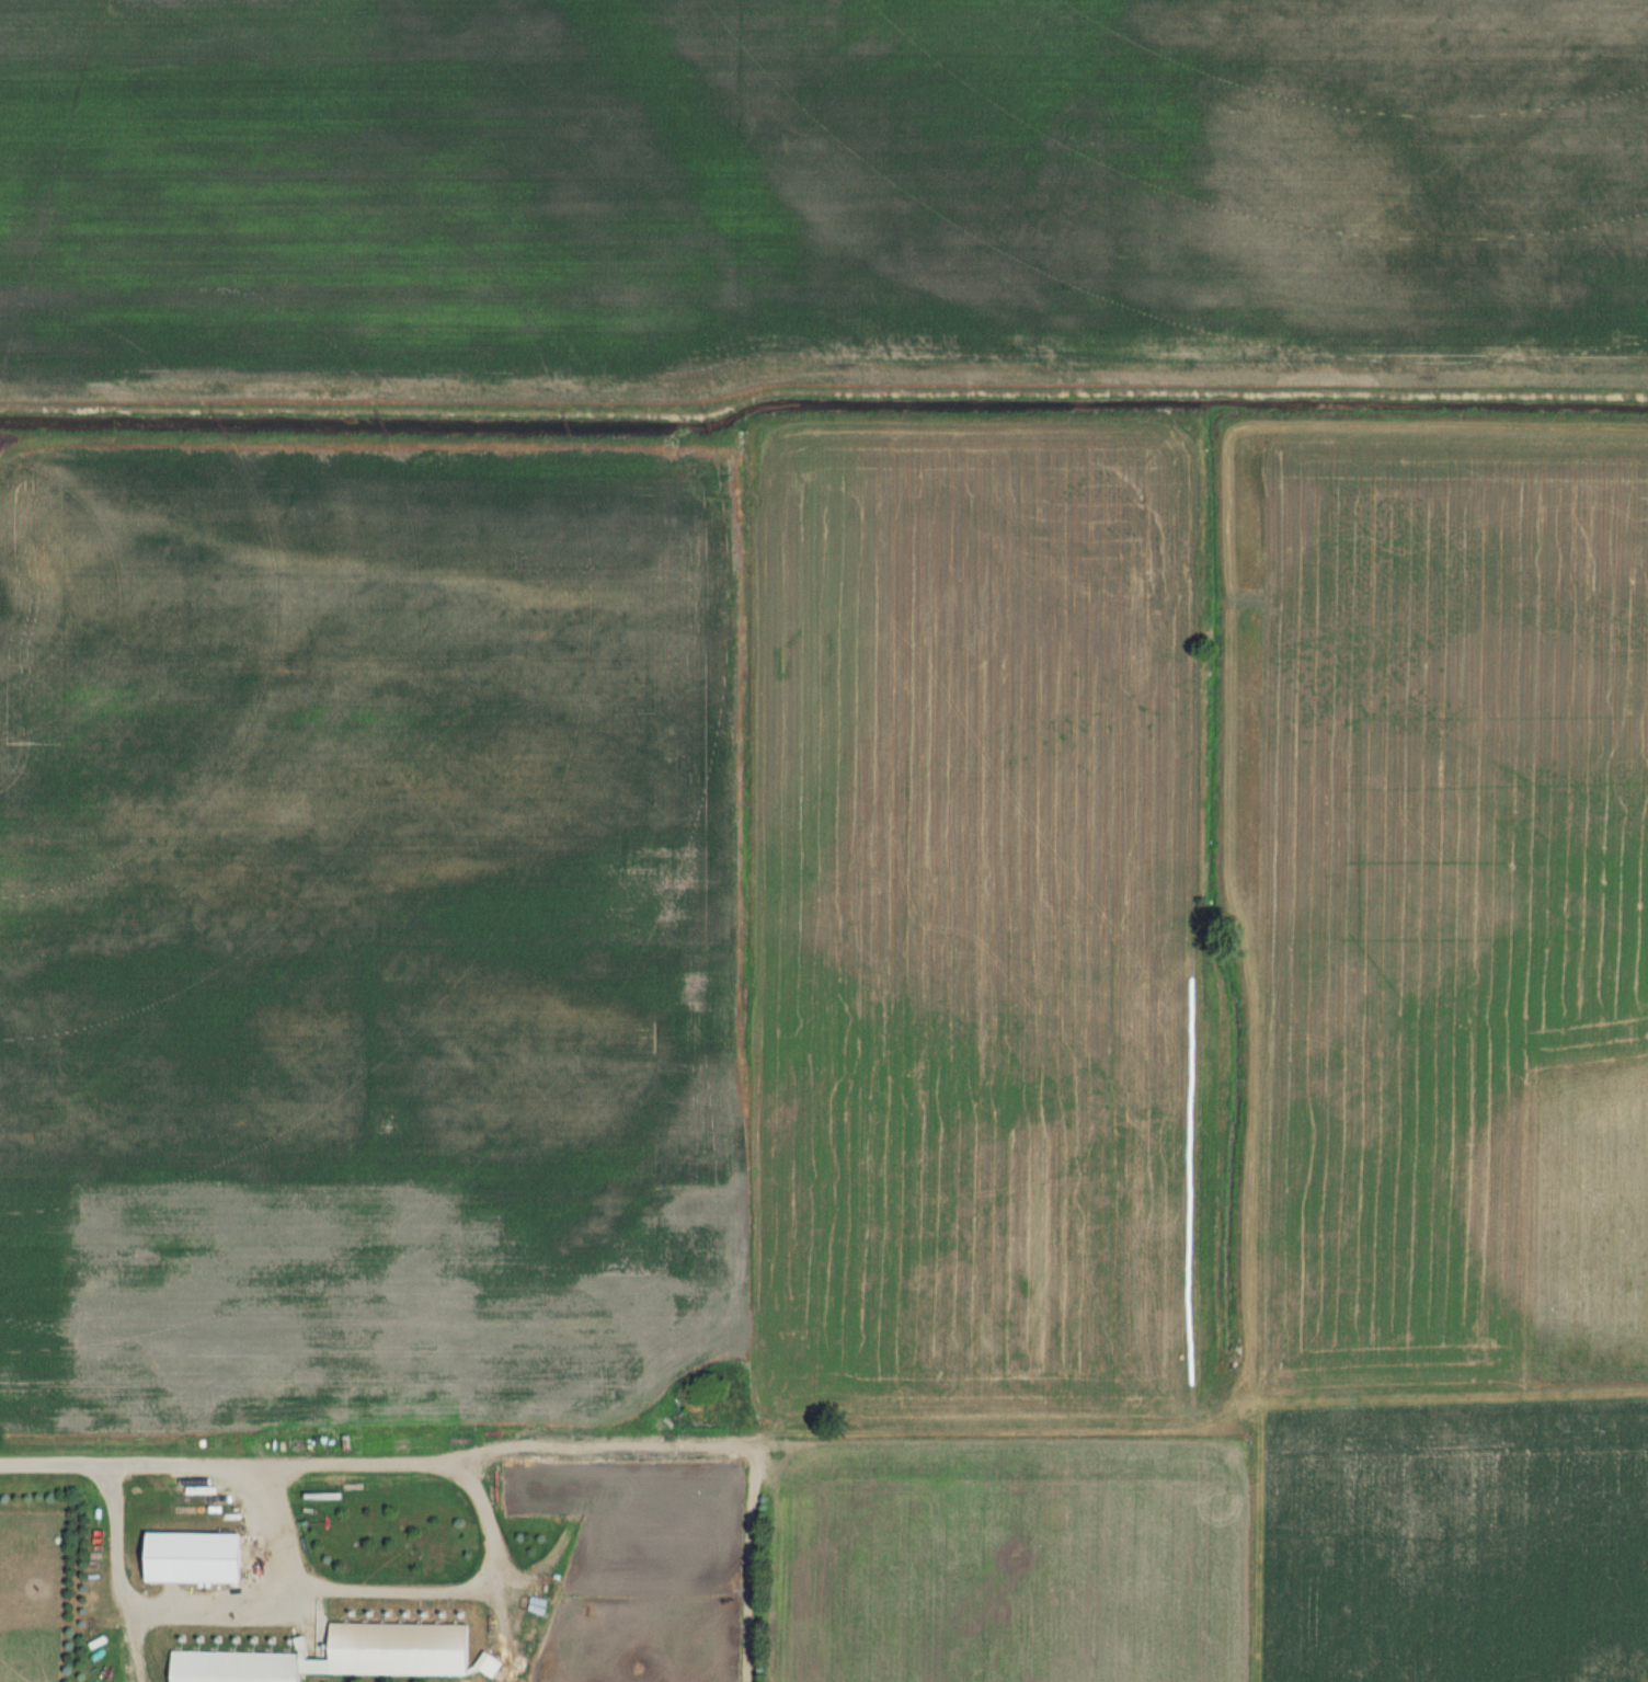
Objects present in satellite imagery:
road: (126, 1462)
building: (198, 1556)
road: (493, 1582)
road: (142, 1605)
building: (403, 1647)
building: (492, 1662)

